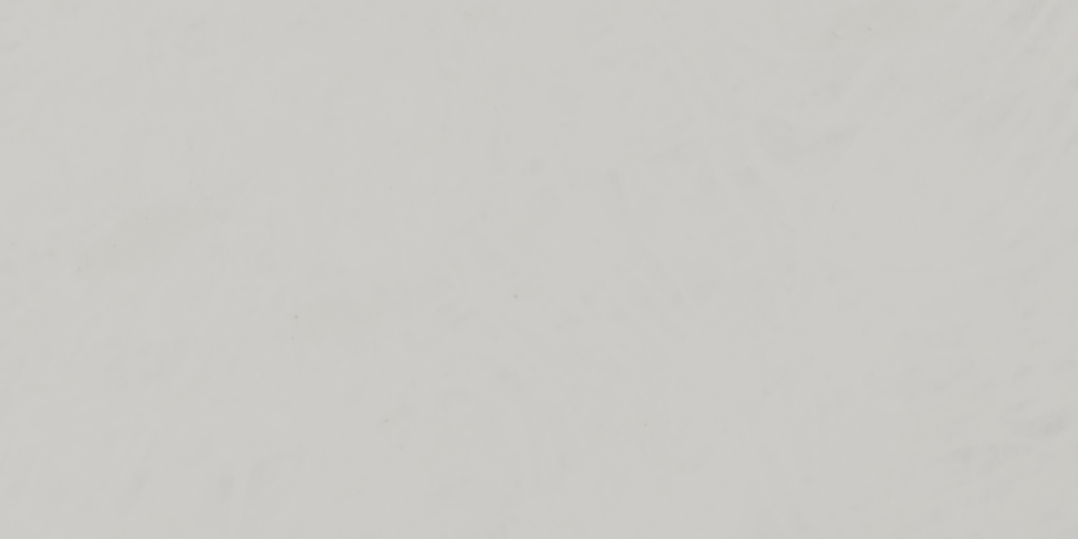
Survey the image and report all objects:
road: (272, 269)

